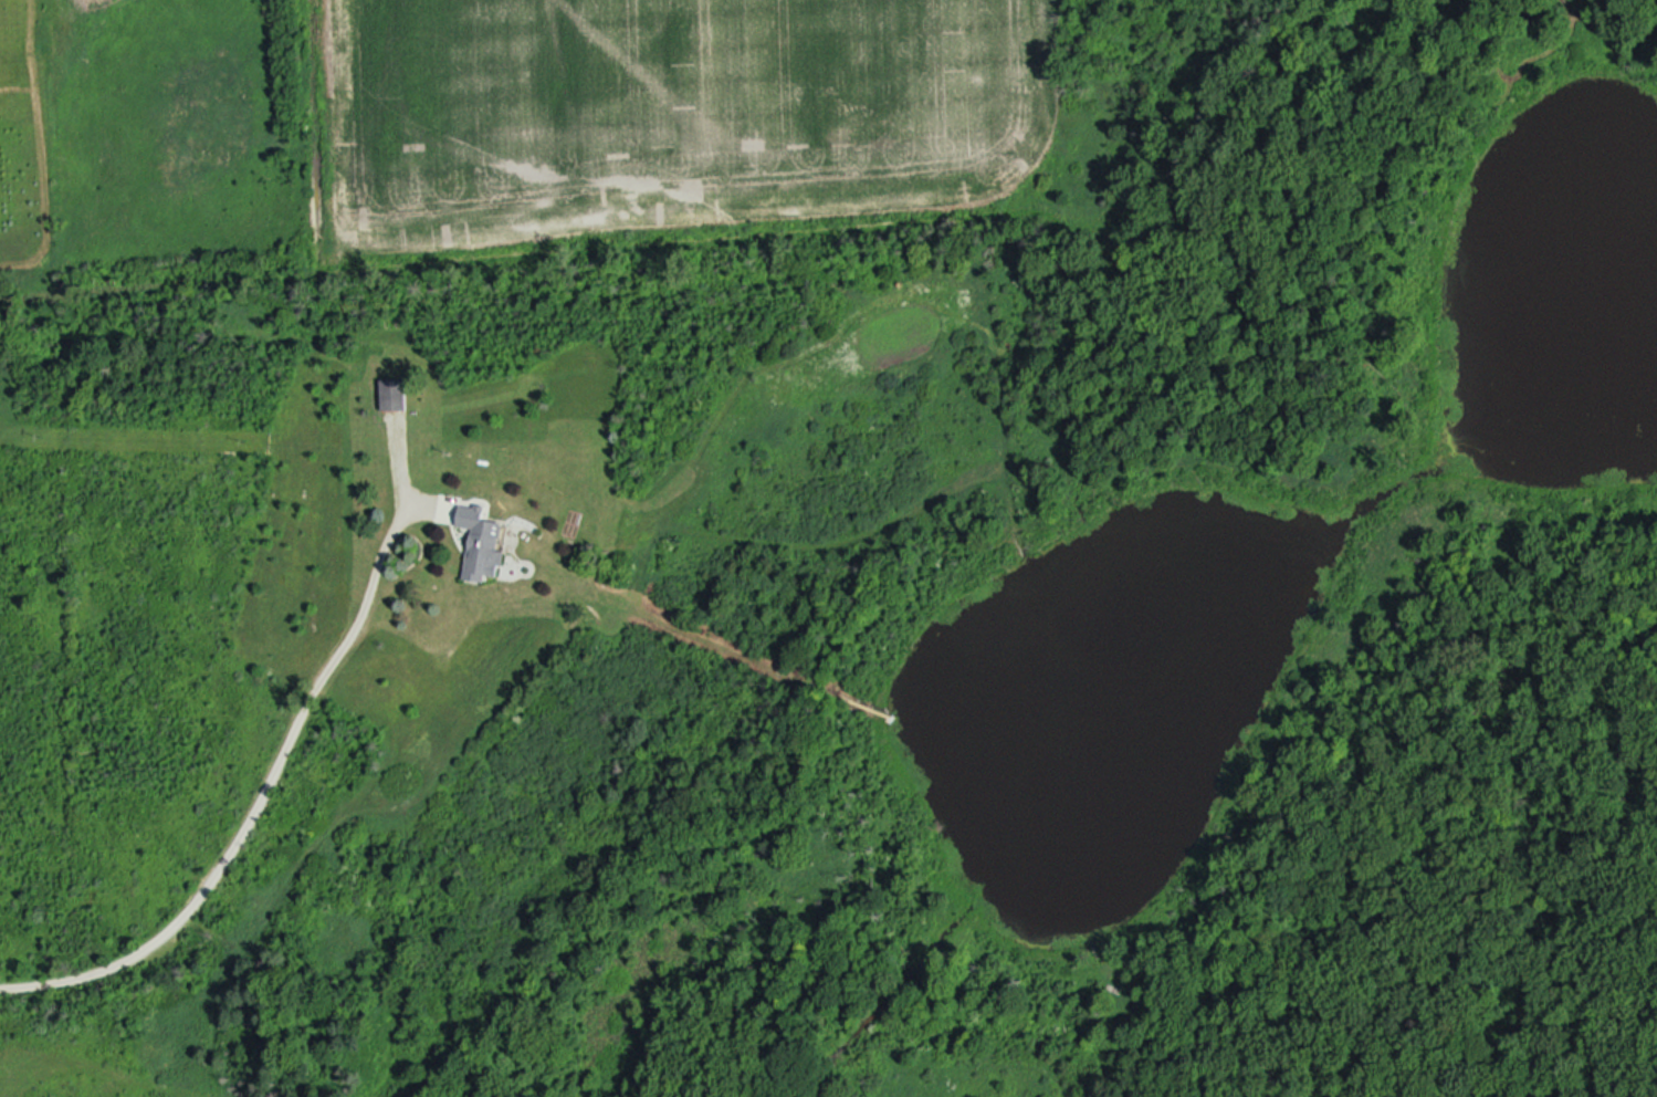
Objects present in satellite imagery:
building: (390, 394)
building: (478, 542)
road: (252, 793)

